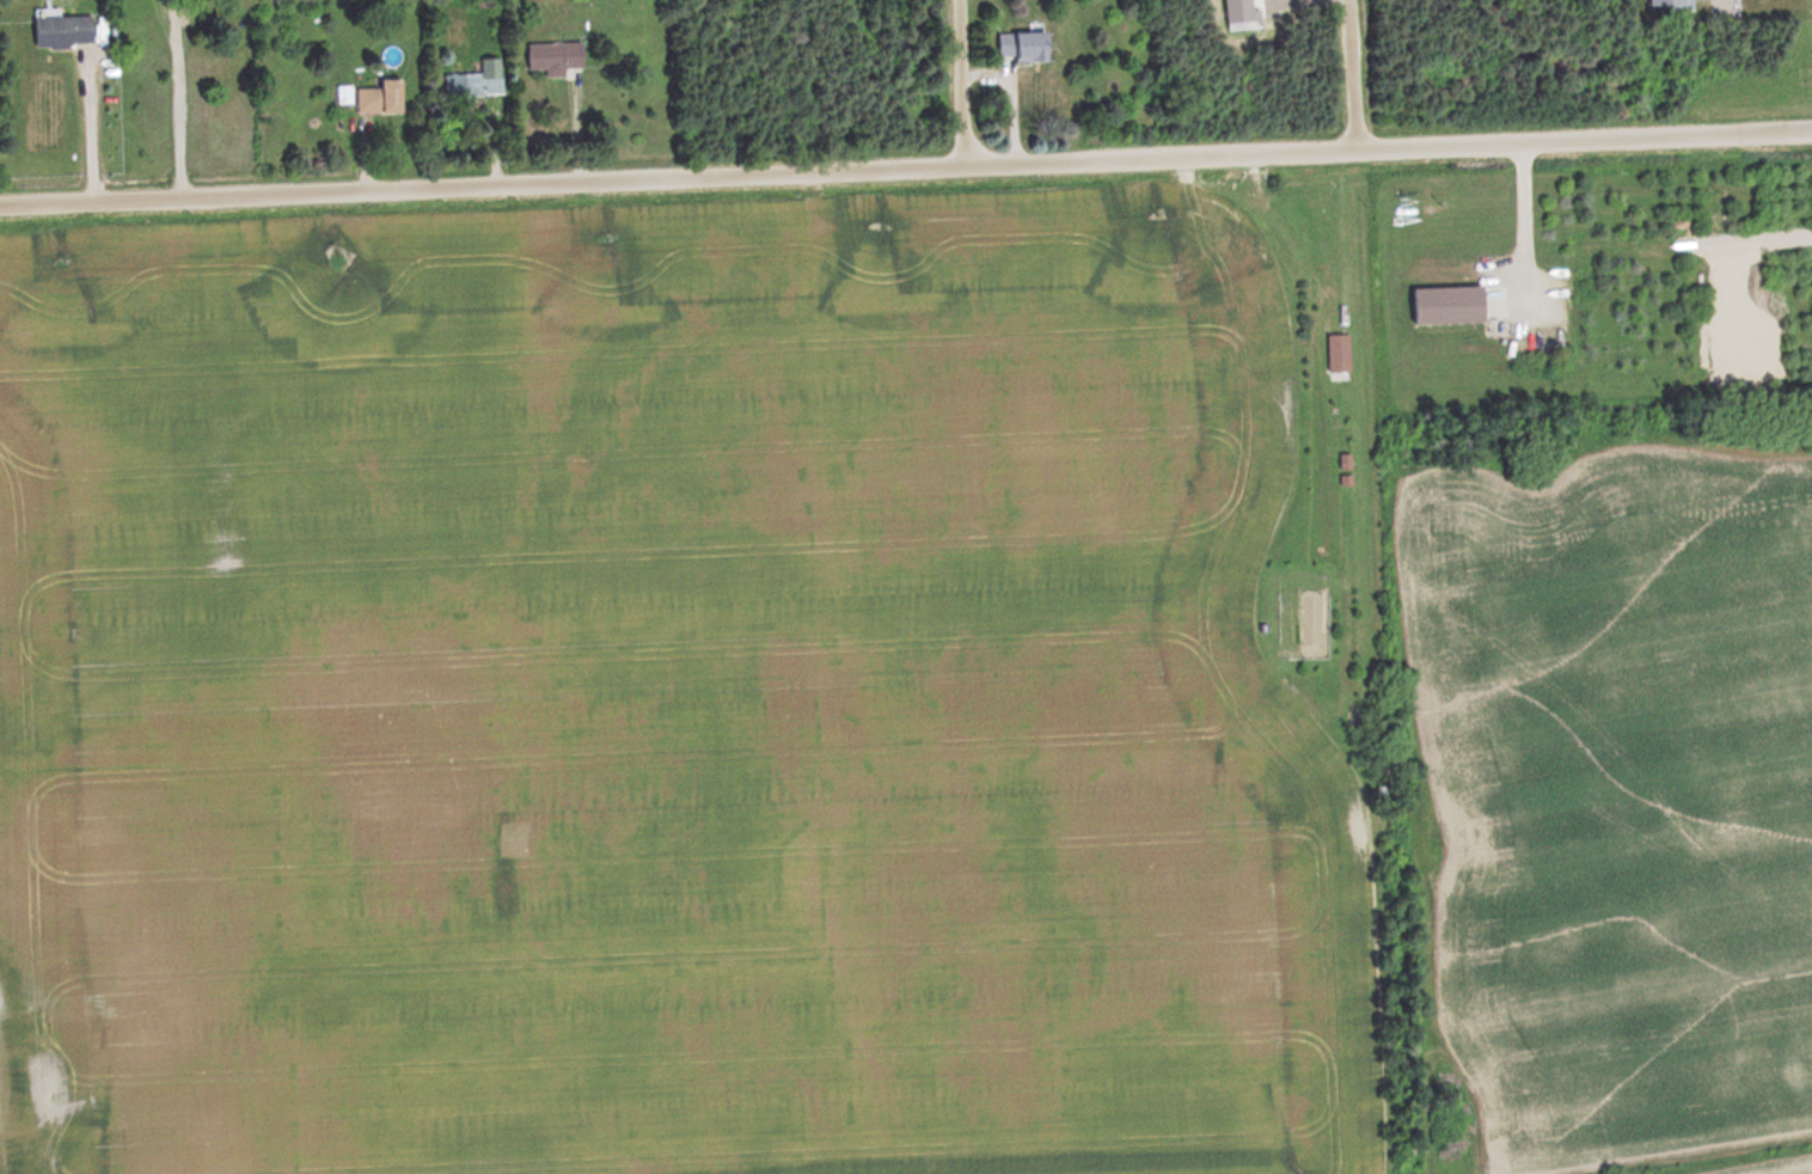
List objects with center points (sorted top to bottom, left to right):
building: (69, 32)
building: (1033, 45)
building: (562, 55)
road: (1345, 74)
building: (482, 80)
road: (954, 81)
building: (387, 98)
road: (91, 126)
road: (906, 166)
building: (1456, 306)
building: (1343, 354)

